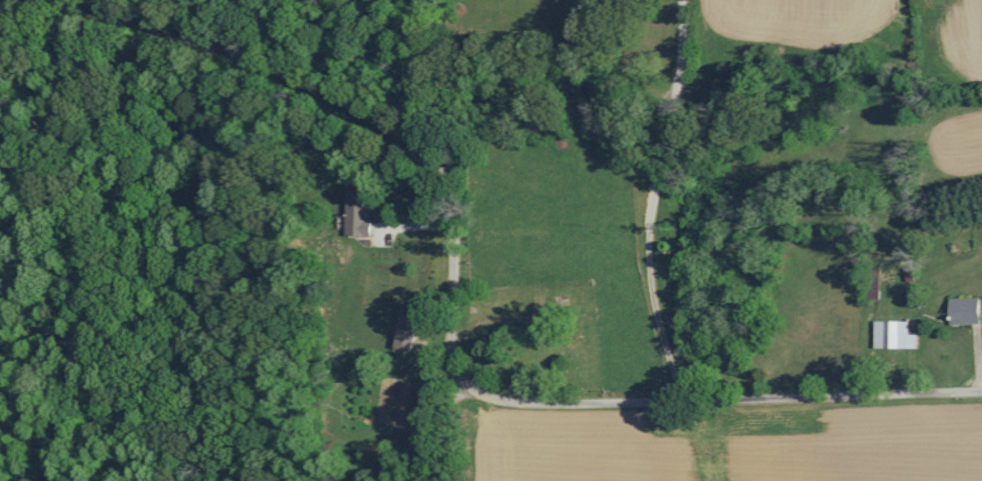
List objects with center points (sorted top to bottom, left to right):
road: (662, 201)
building: (356, 215)
building: (964, 311)
road: (450, 321)
building: (404, 331)
building: (893, 335)
road: (447, 428)

